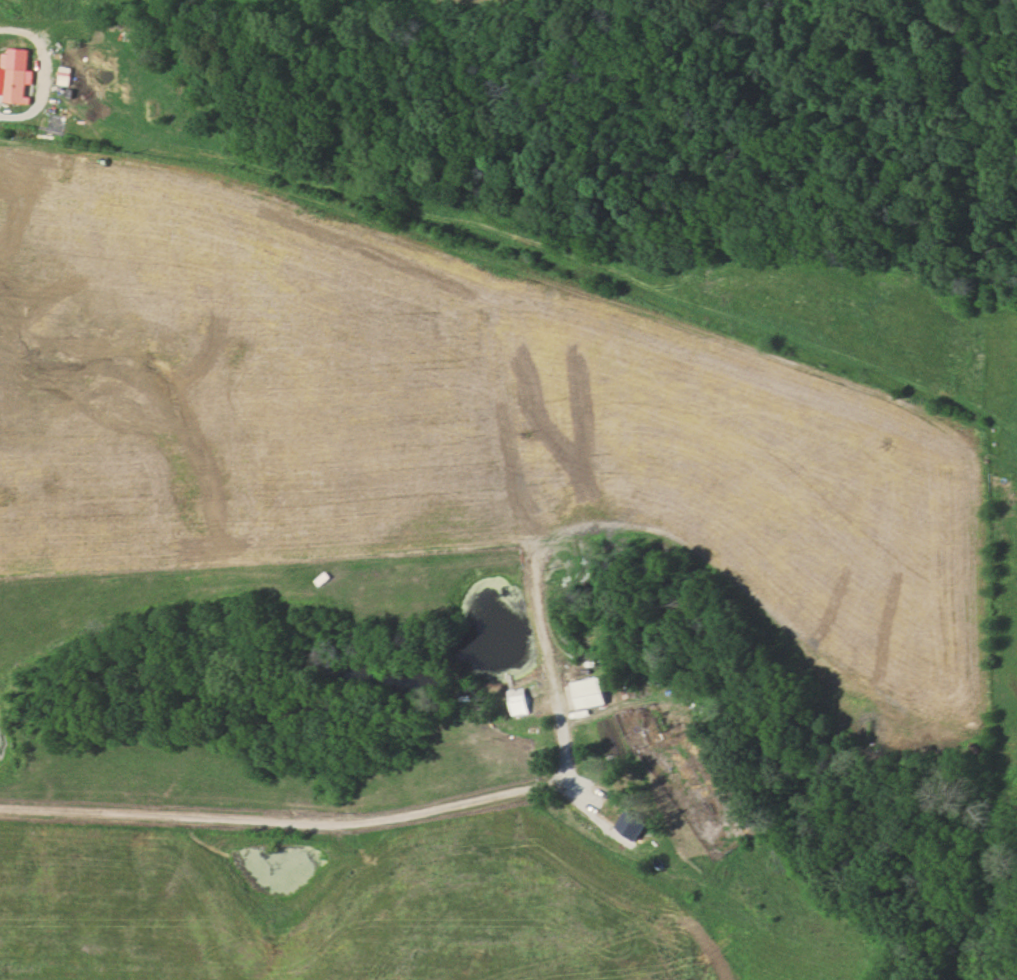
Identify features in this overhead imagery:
building: (179, 6)
road: (47, 29)
building: (16, 84)
road: (43, 90)
road: (507, 306)
road: (664, 541)
road: (528, 542)
building: (589, 693)
building: (518, 701)
road: (478, 800)
building: (629, 830)

